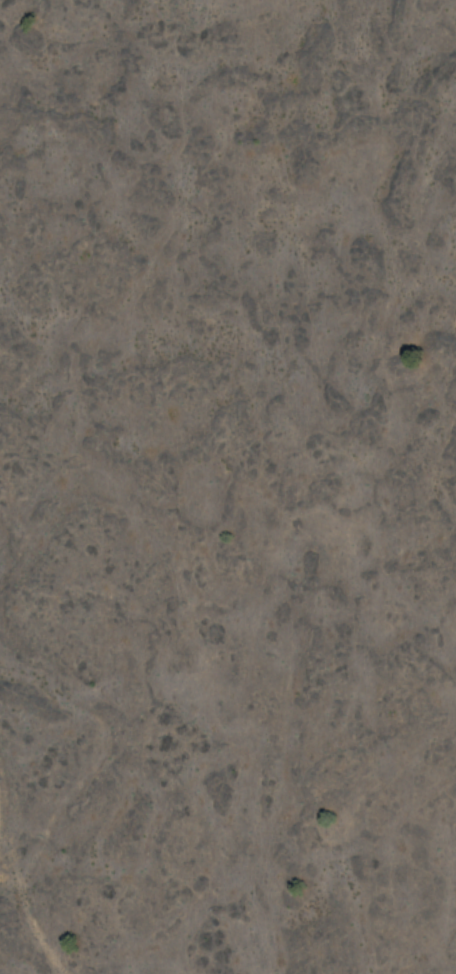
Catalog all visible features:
road: (27, 911)

